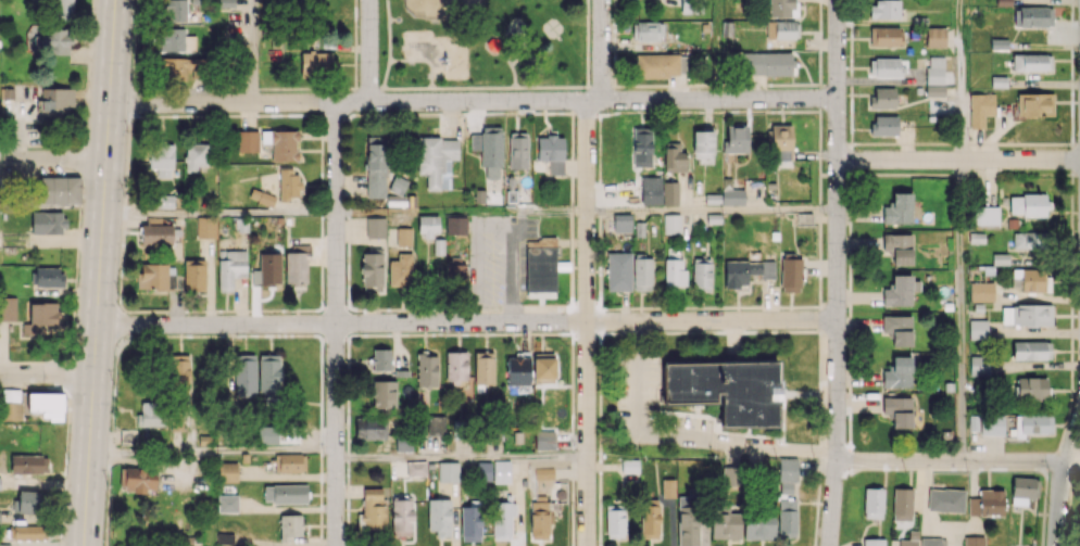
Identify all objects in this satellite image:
building: (63, 5)
building: (780, 8)
park: (463, 9)
building: (884, 9)
building: (175, 10)
building: (1033, 16)
building: (782, 29)
building: (644, 30)
building: (886, 36)
building: (935, 37)
building: (55, 40)
building: (176, 40)
park: (481, 43)
road: (718, 49)
road: (588, 50)
road: (252, 51)
road: (369, 51)
road: (389, 51)
road: (522, 51)
building: (316, 62)
building: (1031, 62)
building: (766, 63)
building: (661, 64)
building: (884, 67)
building: (178, 68)
road: (512, 68)
building: (934, 69)
road: (962, 79)
road: (482, 88)
building: (934, 90)
building: (881, 98)
building: (58, 101)
road: (474, 101)
building: (1034, 104)
building: (980, 109)
building: (883, 125)
building: (736, 138)
building: (247, 141)
building: (780, 141)
building: (281, 143)
building: (703, 143)
building: (641, 145)
building: (489, 150)
building: (517, 150)
building: (551, 152)
building: (194, 156)
building: (674, 157)
road: (53, 158)
building: (161, 158)
building: (437, 160)
road: (958, 160)
building: (376, 166)
building: (288, 182)
building: (60, 190)
building: (670, 192)
building: (651, 194)
building: (262, 196)
building: (732, 196)
building: (164, 201)
building: (1027, 205)
building: (897, 209)
road: (712, 212)
road: (219, 213)
road: (462, 213)
building: (985, 215)
building: (47, 221)
building: (621, 223)
building: (671, 224)
building: (427, 225)
building: (455, 225)
building: (205, 227)
building: (375, 227)
building: (155, 231)
building: (403, 237)
building: (1027, 240)
building: (899, 247)
building: (1000, 258)
building: (297, 263)
building: (230, 268)
building: (540, 268)
building: (267, 269)
building: (401, 269)
building: (618, 270)
building: (372, 271)
road: (587, 271)
building: (746, 271)
road: (98, 272)
building: (642, 272)
building: (674, 272)
road: (837, 272)
building: (194, 274)
building: (455, 274)
building: (701, 274)
building: (790, 274)
building: (152, 276)
building: (48, 277)
building: (1028, 279)
building: (900, 290)
building: (981, 291)
building: (8, 308)
road: (960, 309)
building: (1026, 315)
building: (41, 319)
road: (466, 321)
road: (336, 323)
building: (897, 329)
building: (978, 329)
road: (49, 348)
road: (134, 348)
building: (1031, 350)
building: (380, 358)
road: (89, 360)
building: (979, 365)
building: (456, 367)
building: (484, 368)
building: (543, 368)
building: (517, 369)
building: (426, 370)
road: (47, 372)
building: (268, 372)
building: (899, 372)
building: (244, 373)
building: (1031, 389)
building: (726, 390)
building: (382, 393)
building: (45, 403)
building: (11, 410)
building: (897, 410)
building: (150, 414)
building: (436, 424)
building: (992, 424)
building: (1033, 424)
building: (371, 428)
building: (267, 434)
road: (686, 435)
building: (544, 440)
road: (212, 449)
road: (461, 458)
road: (957, 460)
building: (288, 462)
building: (28, 464)
building: (416, 468)
building: (629, 469)
building: (788, 469)
building: (227, 471)
building: (448, 471)
building: (493, 471)
building: (543, 473)
building: (137, 479)
building: (668, 487)
building: (1022, 490)
road: (1059, 491)
building: (285, 493)
building: (945, 499)
building: (28, 501)
building: (227, 503)
building: (872, 503)
building: (987, 503)
building: (902, 504)
building: (373, 510)
building: (439, 516)
building: (401, 517)
building: (787, 517)
building: (650, 518)
building: (502, 520)
building: (539, 520)
building: (470, 521)
building: (687, 521)
building: (615, 523)
building: (725, 523)
building: (758, 524)
building: (290, 525)
building: (27, 532)
building: (224, 538)
building: (909, 539)
building: (974, 541)
building: (874, 542)
building: (932, 542)

